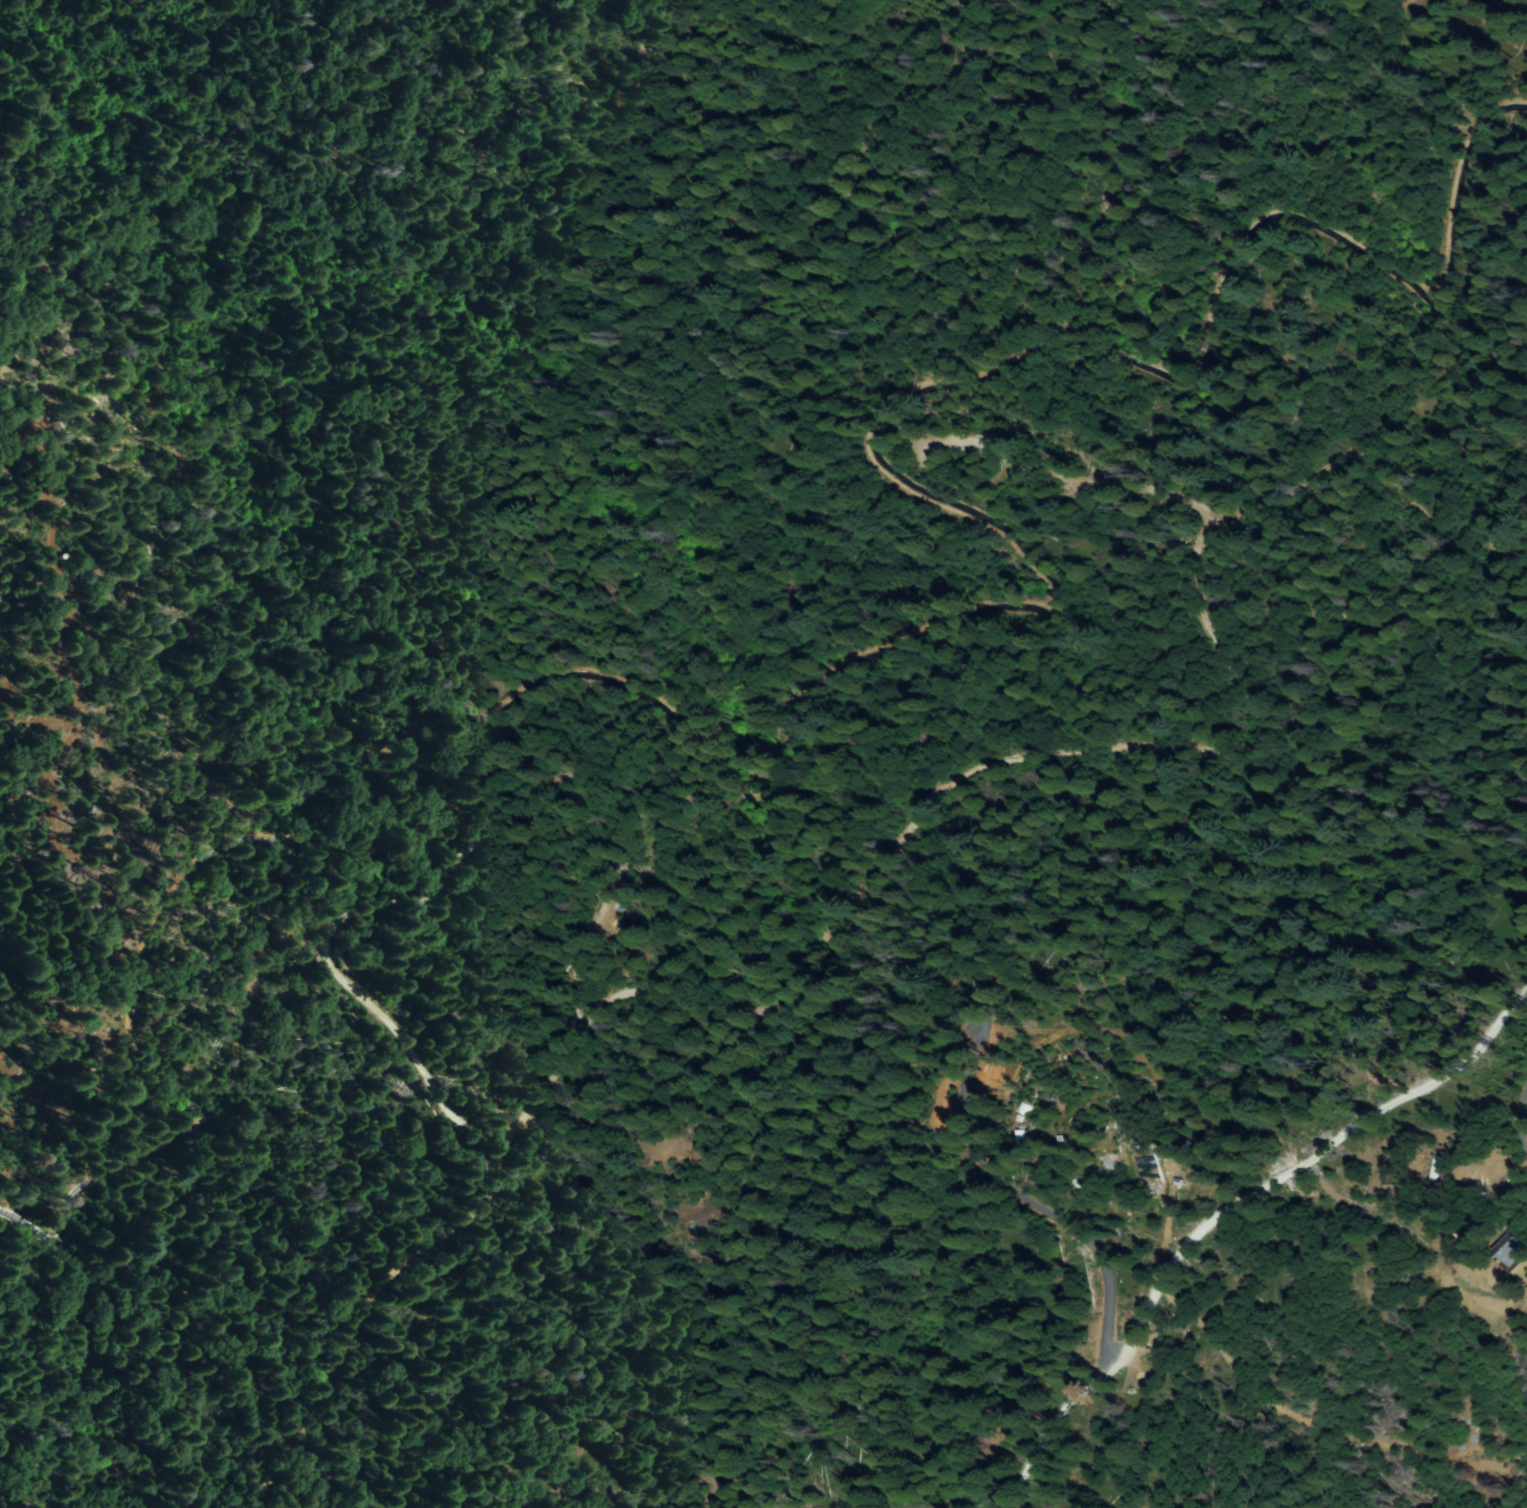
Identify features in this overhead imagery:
road: (1428, 1079)
building: (1436, 1168)
building: (1510, 1252)
road: (1149, 1330)

